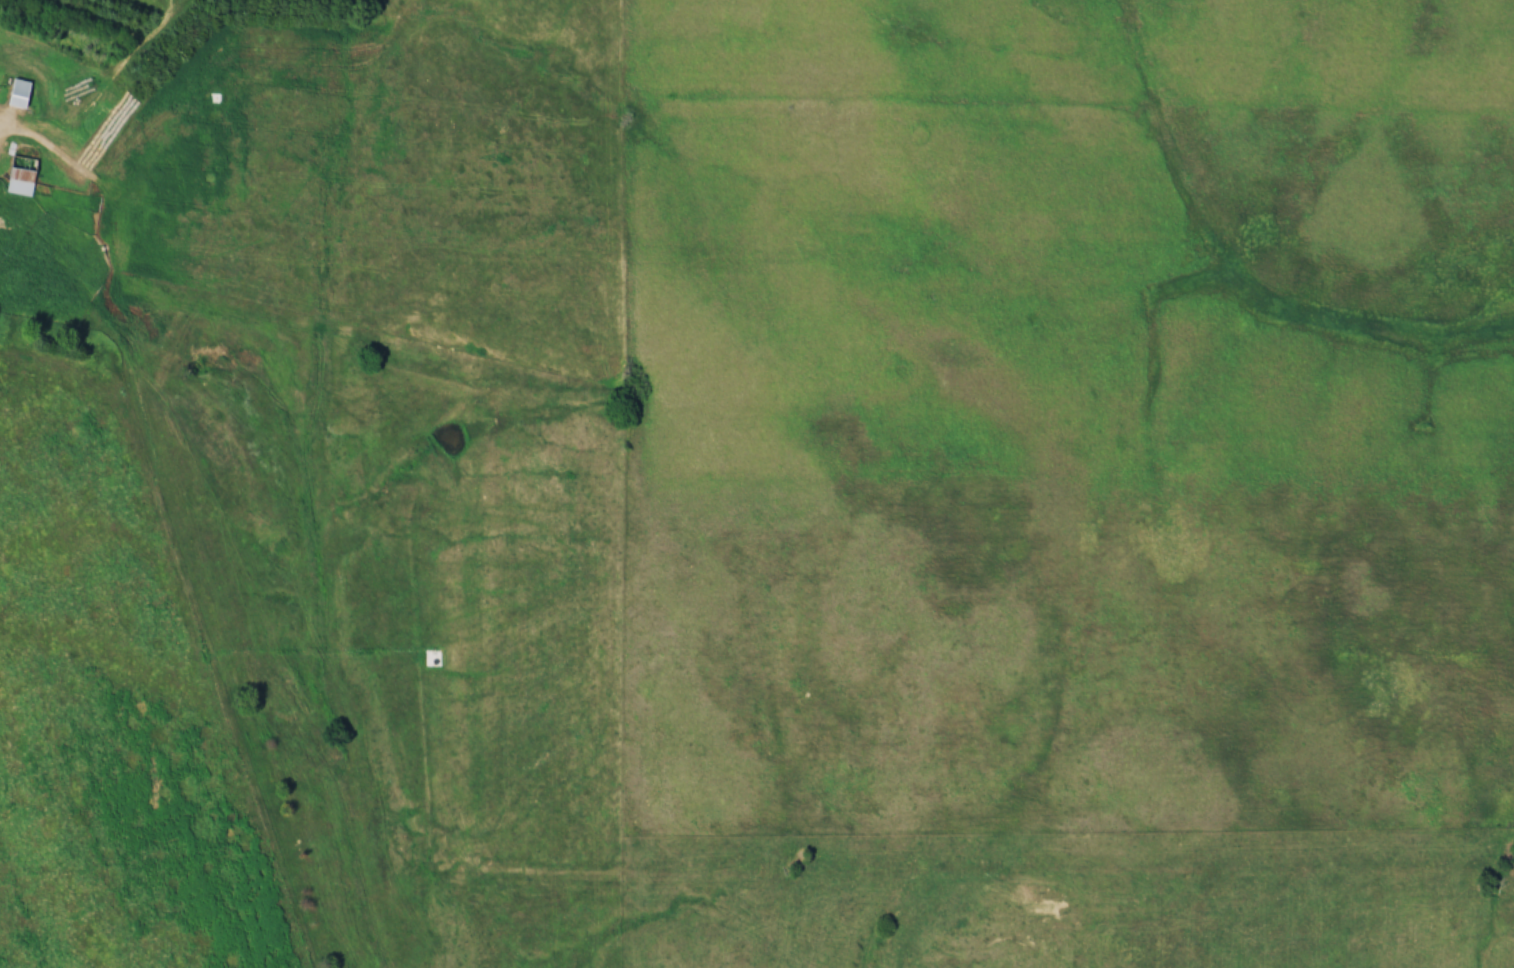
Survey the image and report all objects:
building: (22, 92)
building: (26, 168)

